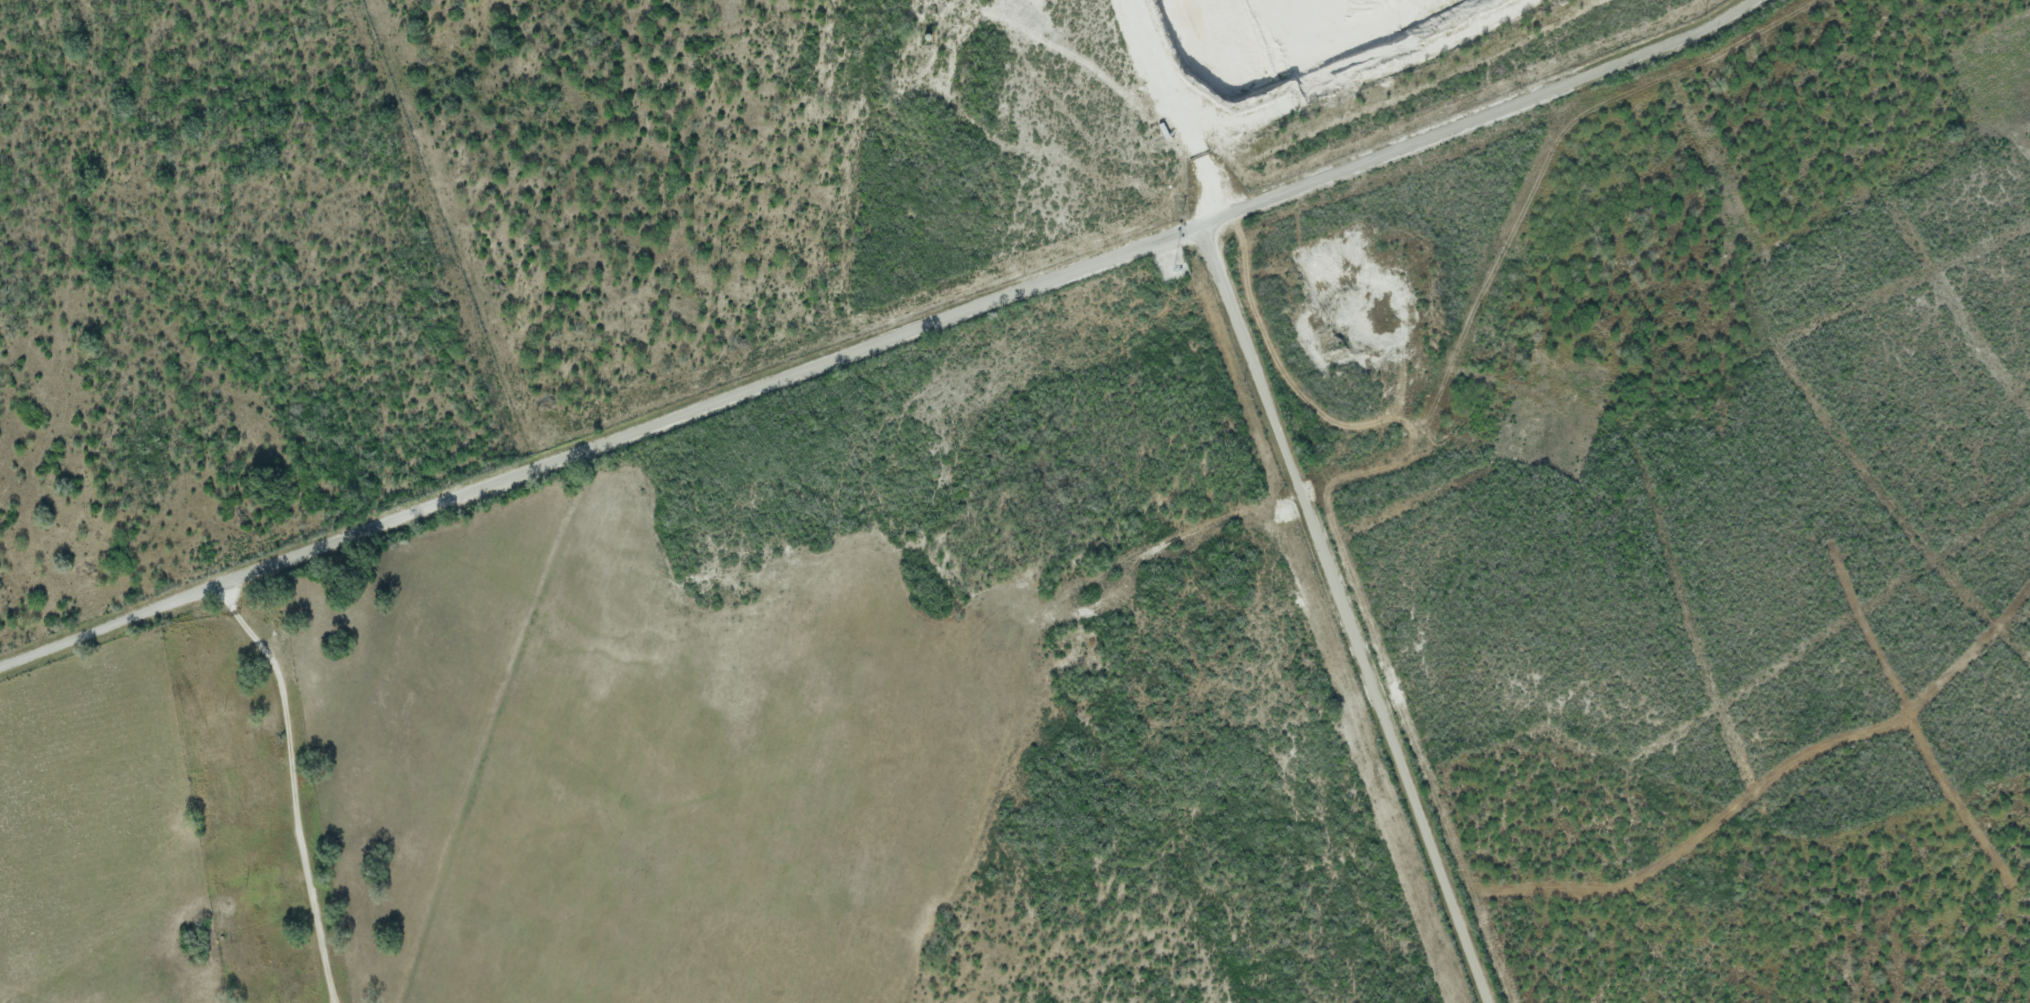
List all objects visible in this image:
road: (885, 345)
road: (1346, 616)

